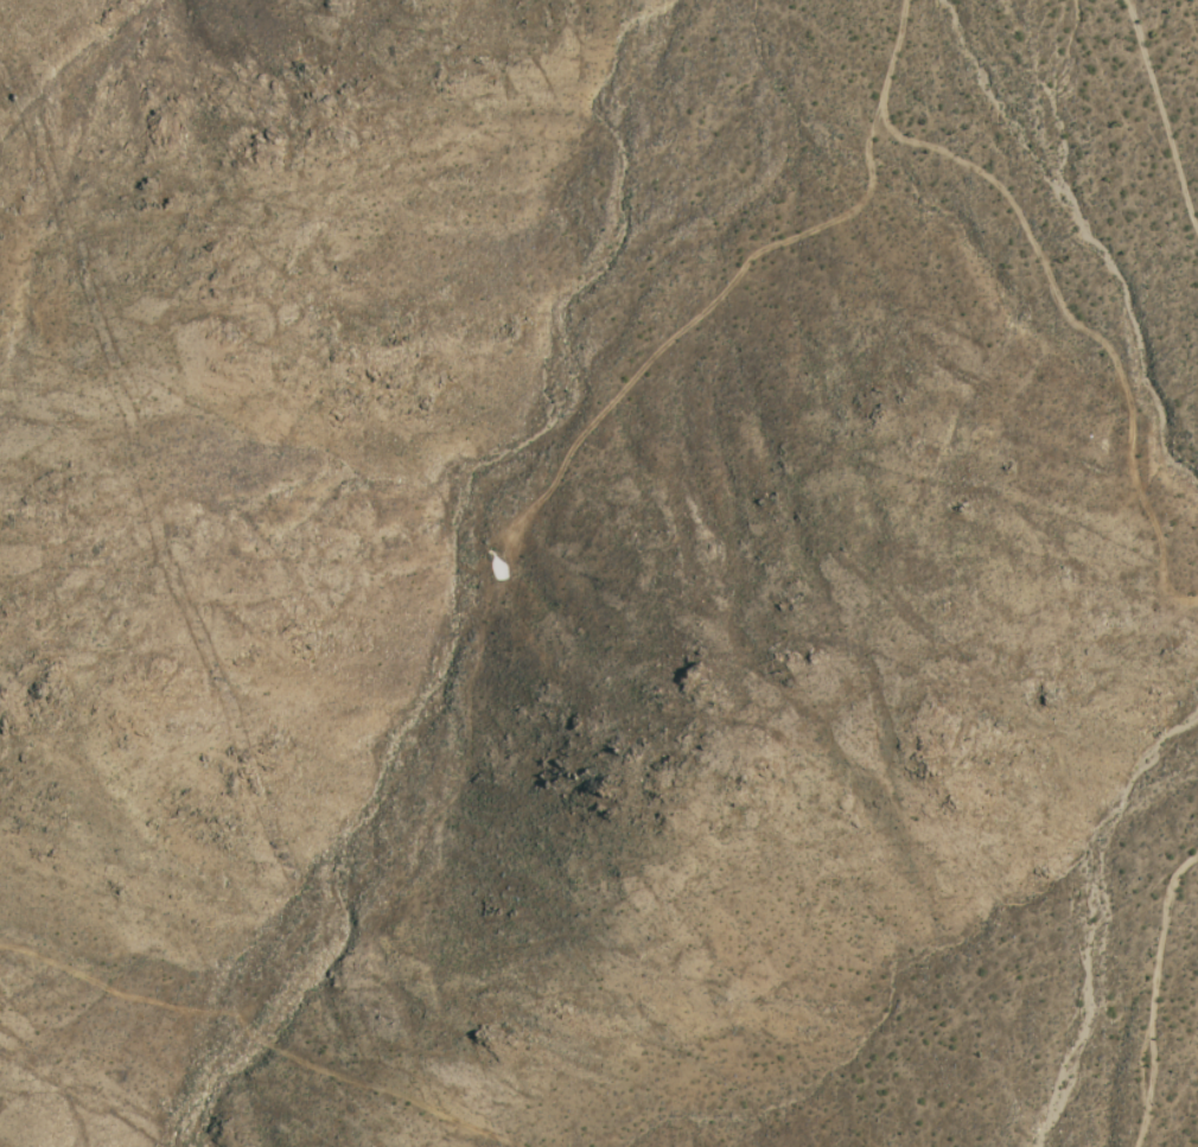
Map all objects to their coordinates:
road: (1064, 559)

